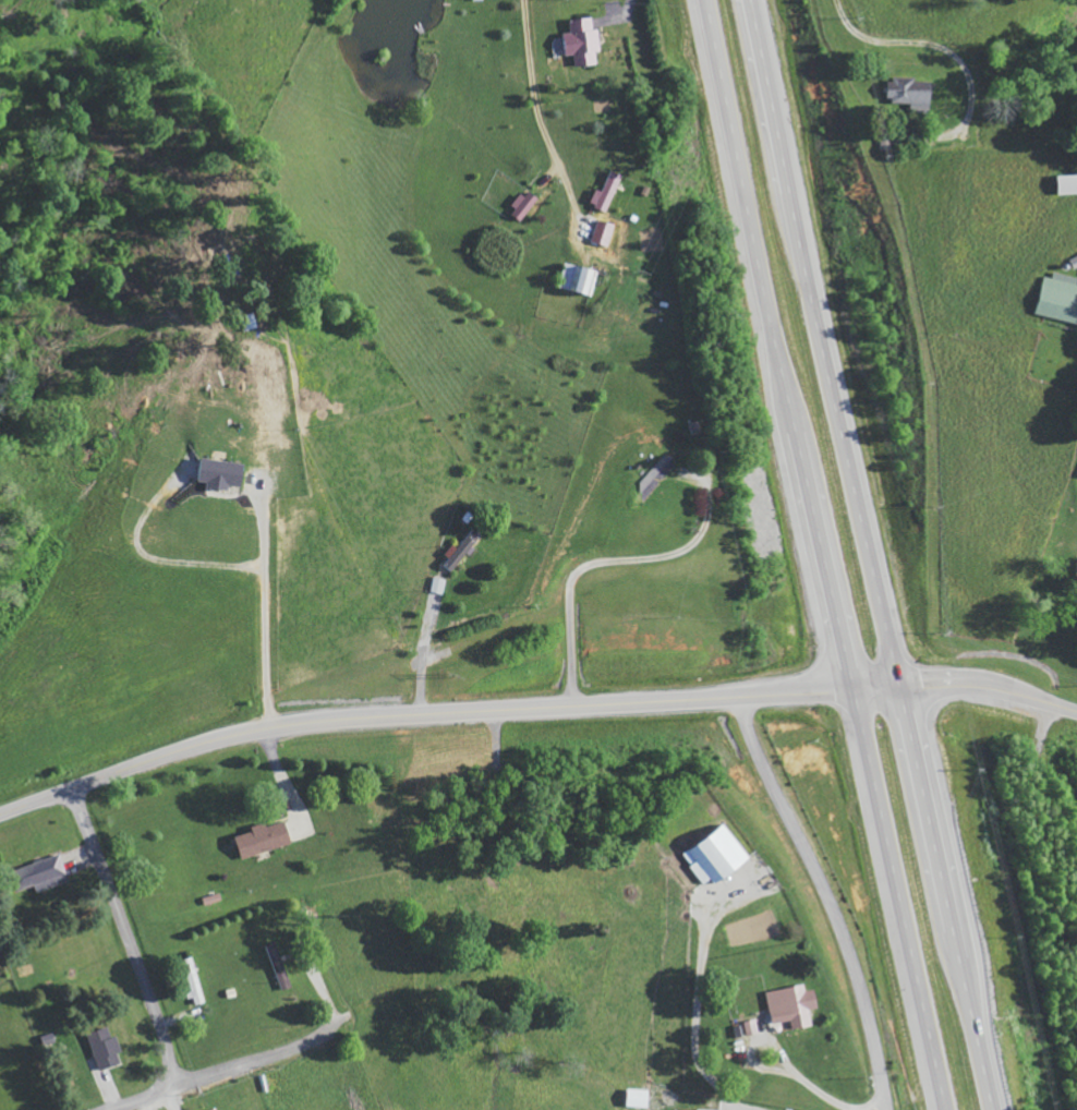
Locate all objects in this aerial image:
building: (582, 43)
building: (913, 94)
building: (1069, 184)
building: (608, 192)
building: (525, 206)
building: (606, 232)
building: (581, 278)
building: (1060, 298)
building: (225, 475)
building: (463, 551)
road: (823, 555)
road: (869, 555)
road: (532, 704)
building: (266, 838)
building: (718, 856)
building: (46, 872)
road: (129, 933)
building: (278, 965)
building: (794, 1004)
building: (106, 1048)
road: (255, 1059)
road: (150, 1097)
building: (640, 1097)
building: (217, 1109)
building: (702, 1109)

